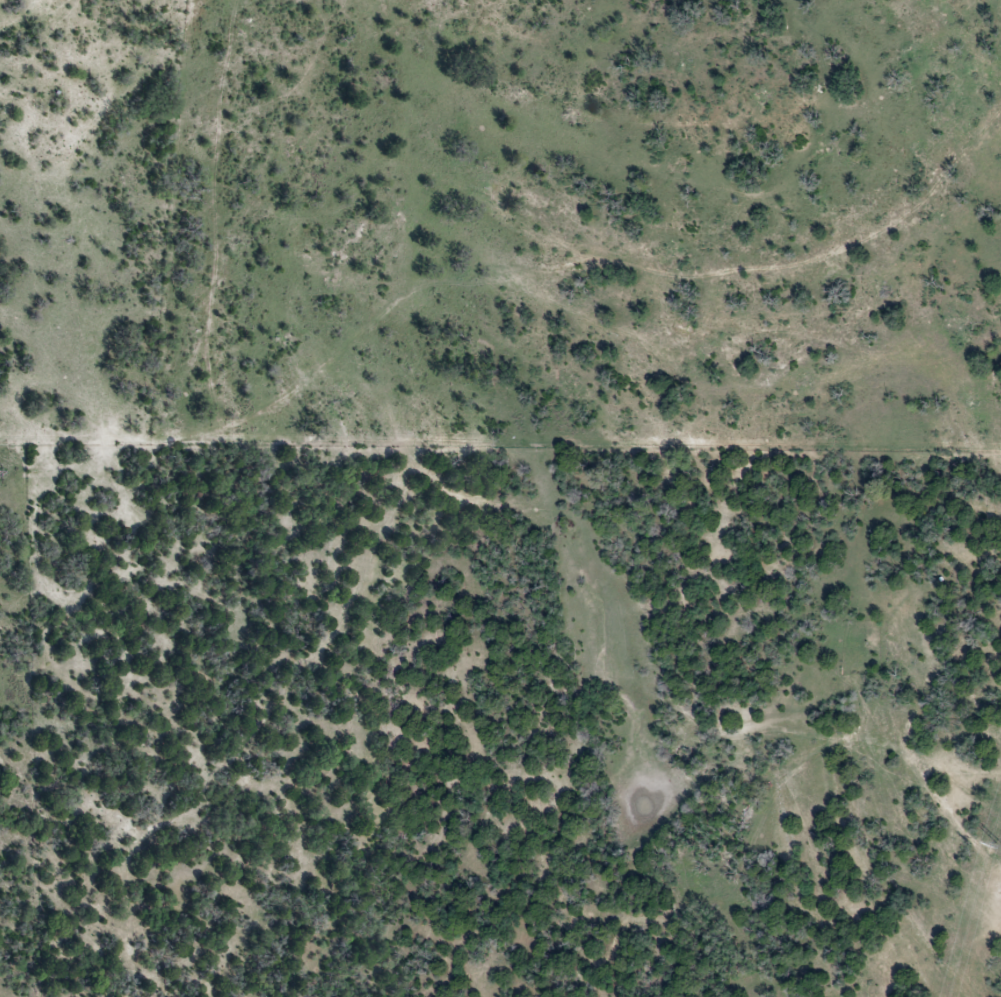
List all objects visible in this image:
power tower: (1000, 842)

